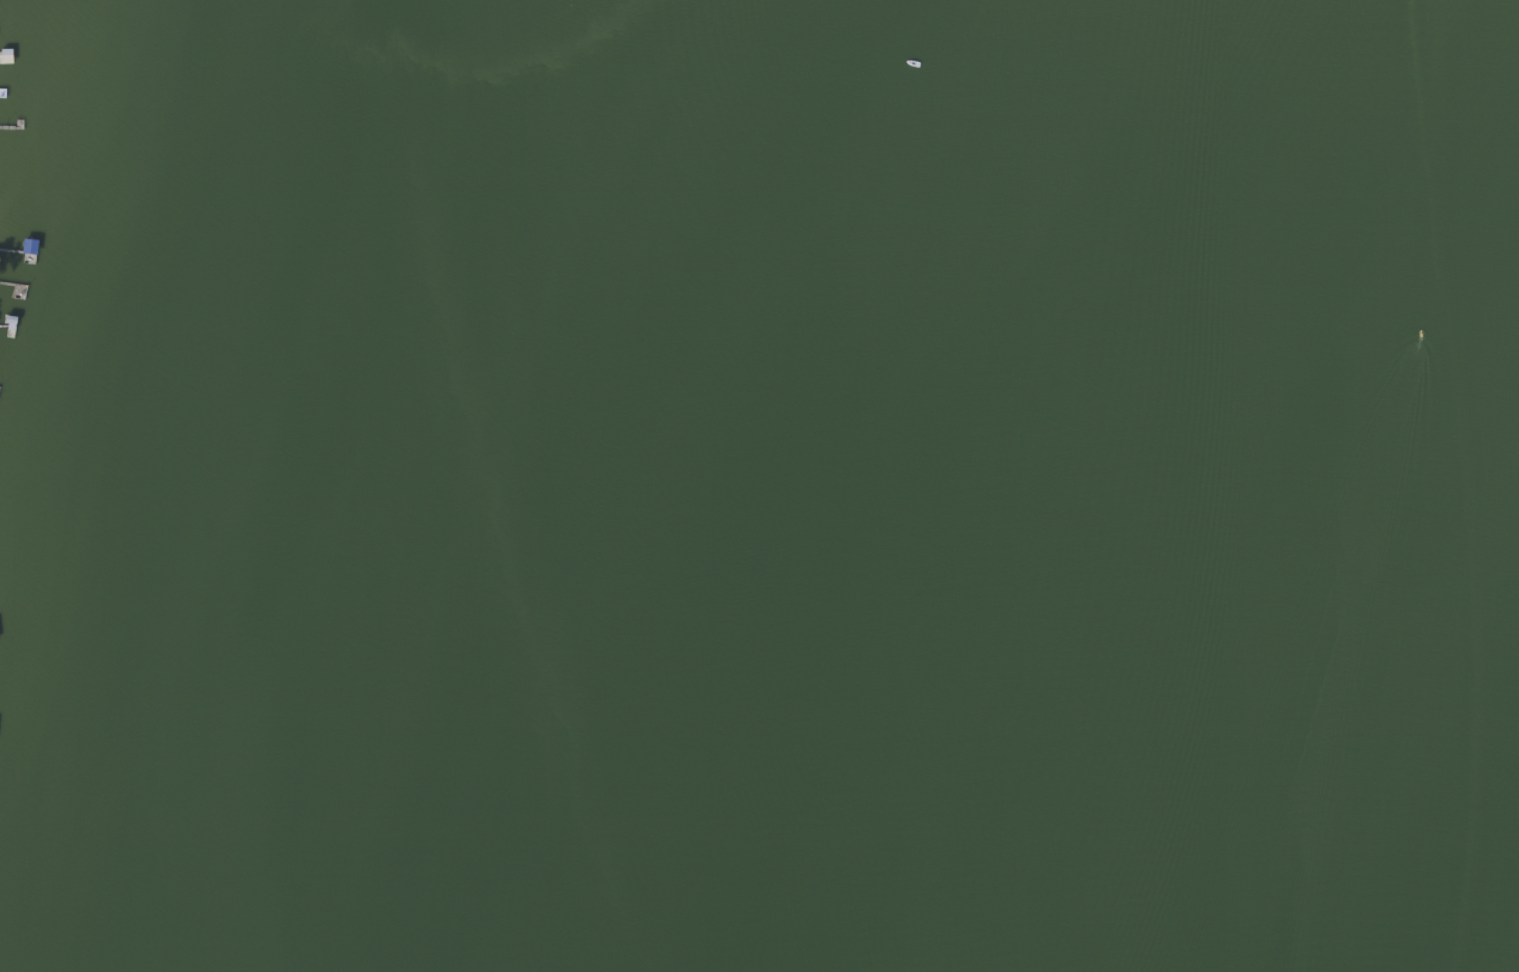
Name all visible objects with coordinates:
river: (1334, 486)

